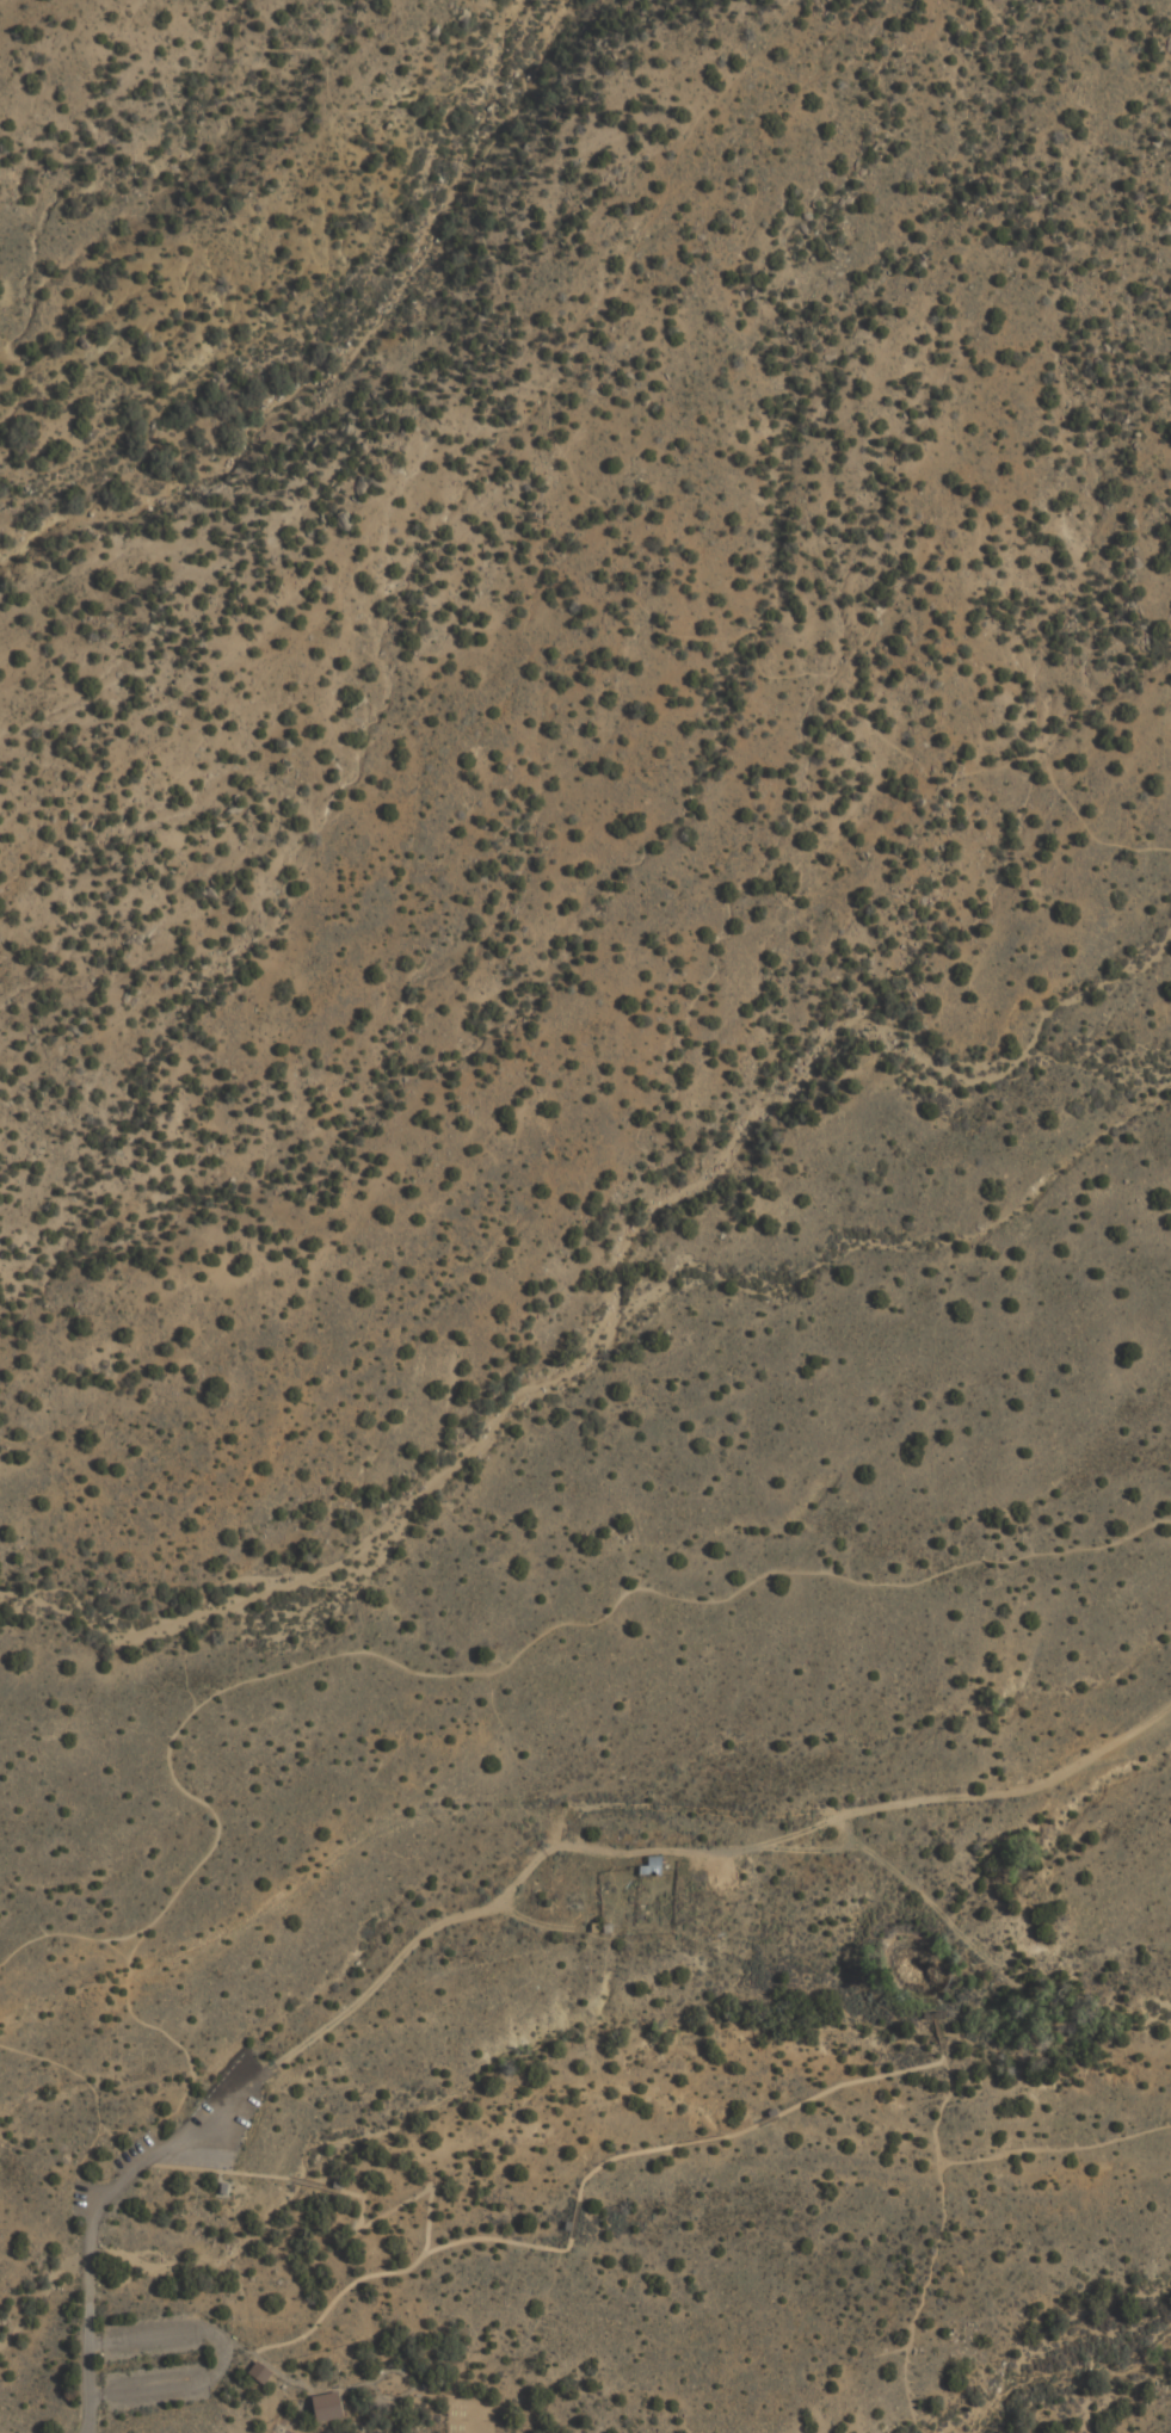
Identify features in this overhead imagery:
road: (583, 484)
park: (585, 1216)
road: (608, 1299)
road: (534, 1640)
road: (431, 1928)
road: (131, 2005)
road: (941, 2039)
parking lot: (201, 2129)
road: (1001, 2157)
road: (216, 2170)
road: (220, 2182)
road: (314, 2185)
building: (224, 2188)
road: (218, 2193)
parking lot: (78, 2199)
road: (578, 2203)
road: (99, 2209)
road: (925, 2299)
road: (338, 2301)
building: (327, 2406)

